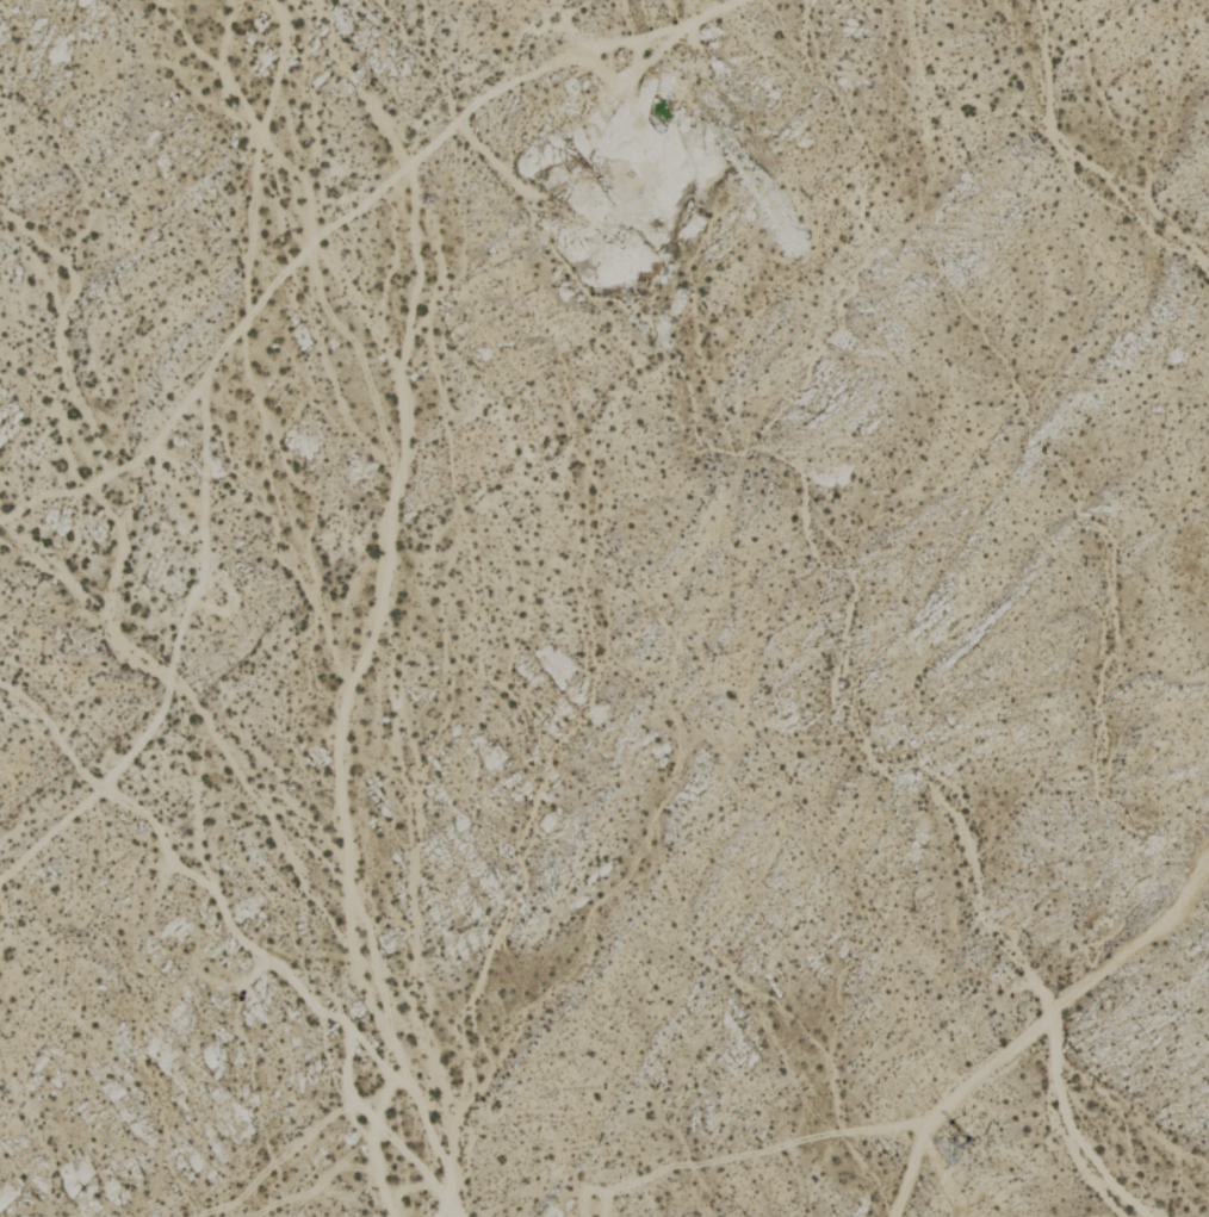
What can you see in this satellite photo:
power tower: (971, 1148)

